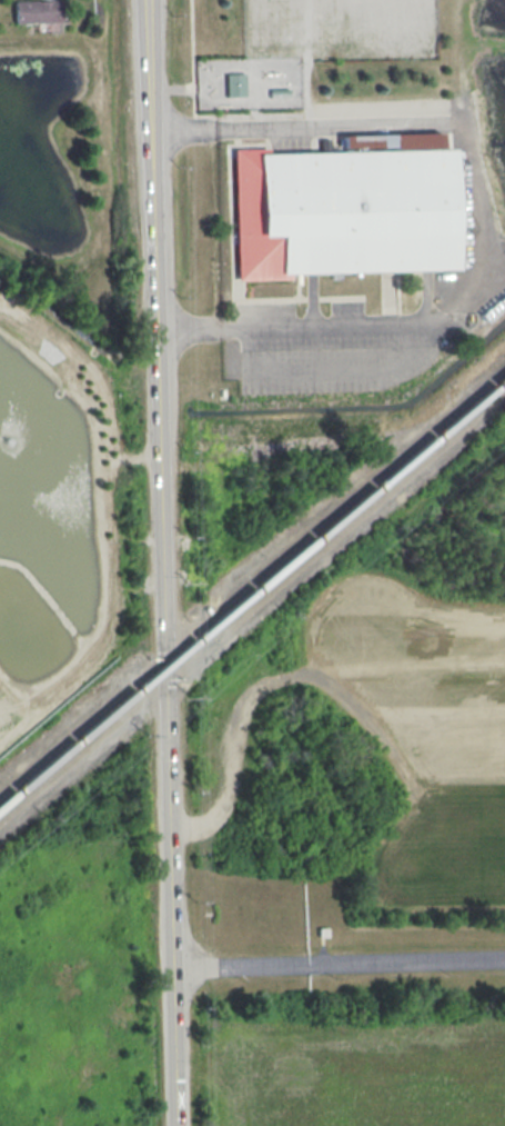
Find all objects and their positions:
building: (37, 11)
building: (234, 83)
road: (246, 129)
building: (343, 211)
road: (158, 268)
road: (290, 330)
railway: (252, 592)
road: (166, 600)
road: (169, 716)
road: (174, 947)
road: (407, 964)
road: (242, 967)

